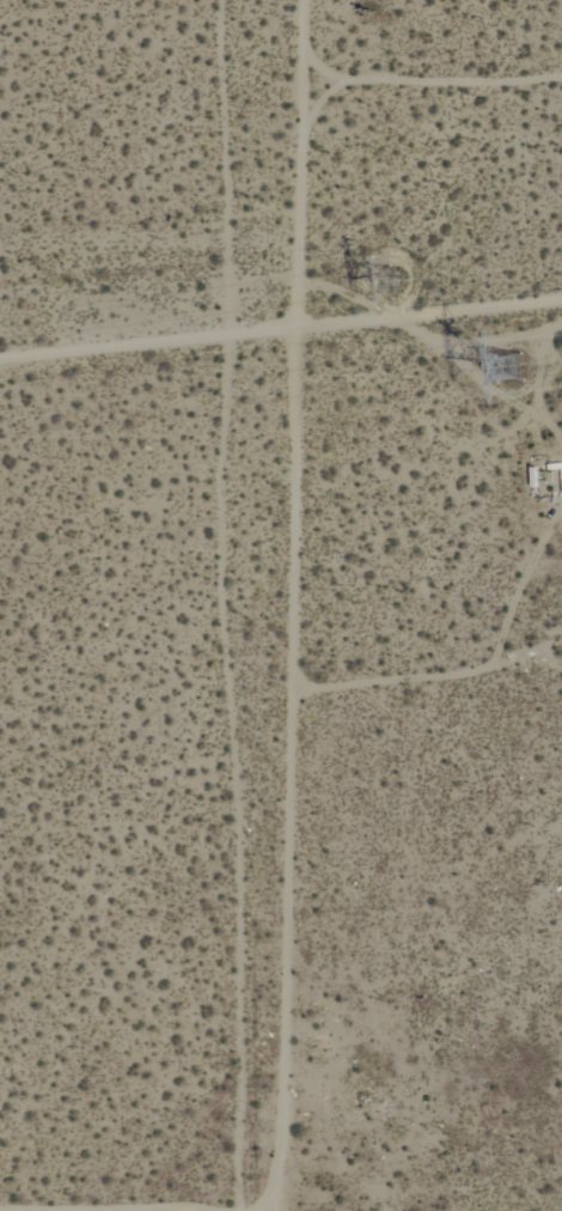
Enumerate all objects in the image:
road: (140, 284)
power tower: (396, 290)
road: (281, 334)
power tower: (518, 375)
road: (285, 603)

